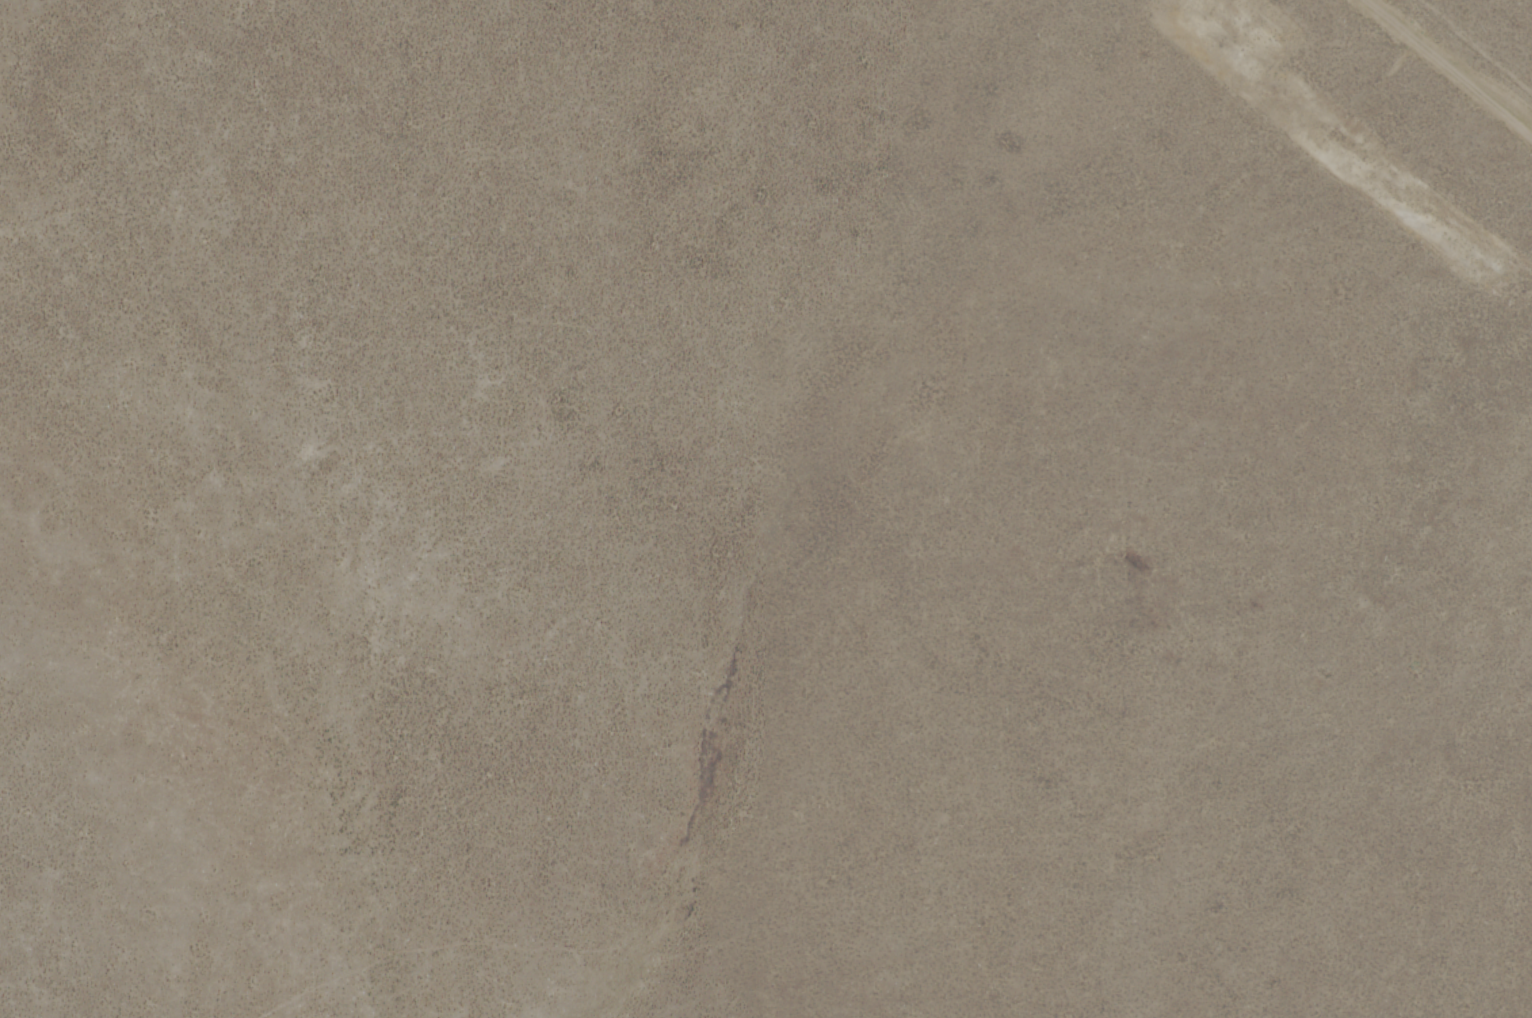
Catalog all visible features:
road: (1453, 62)

